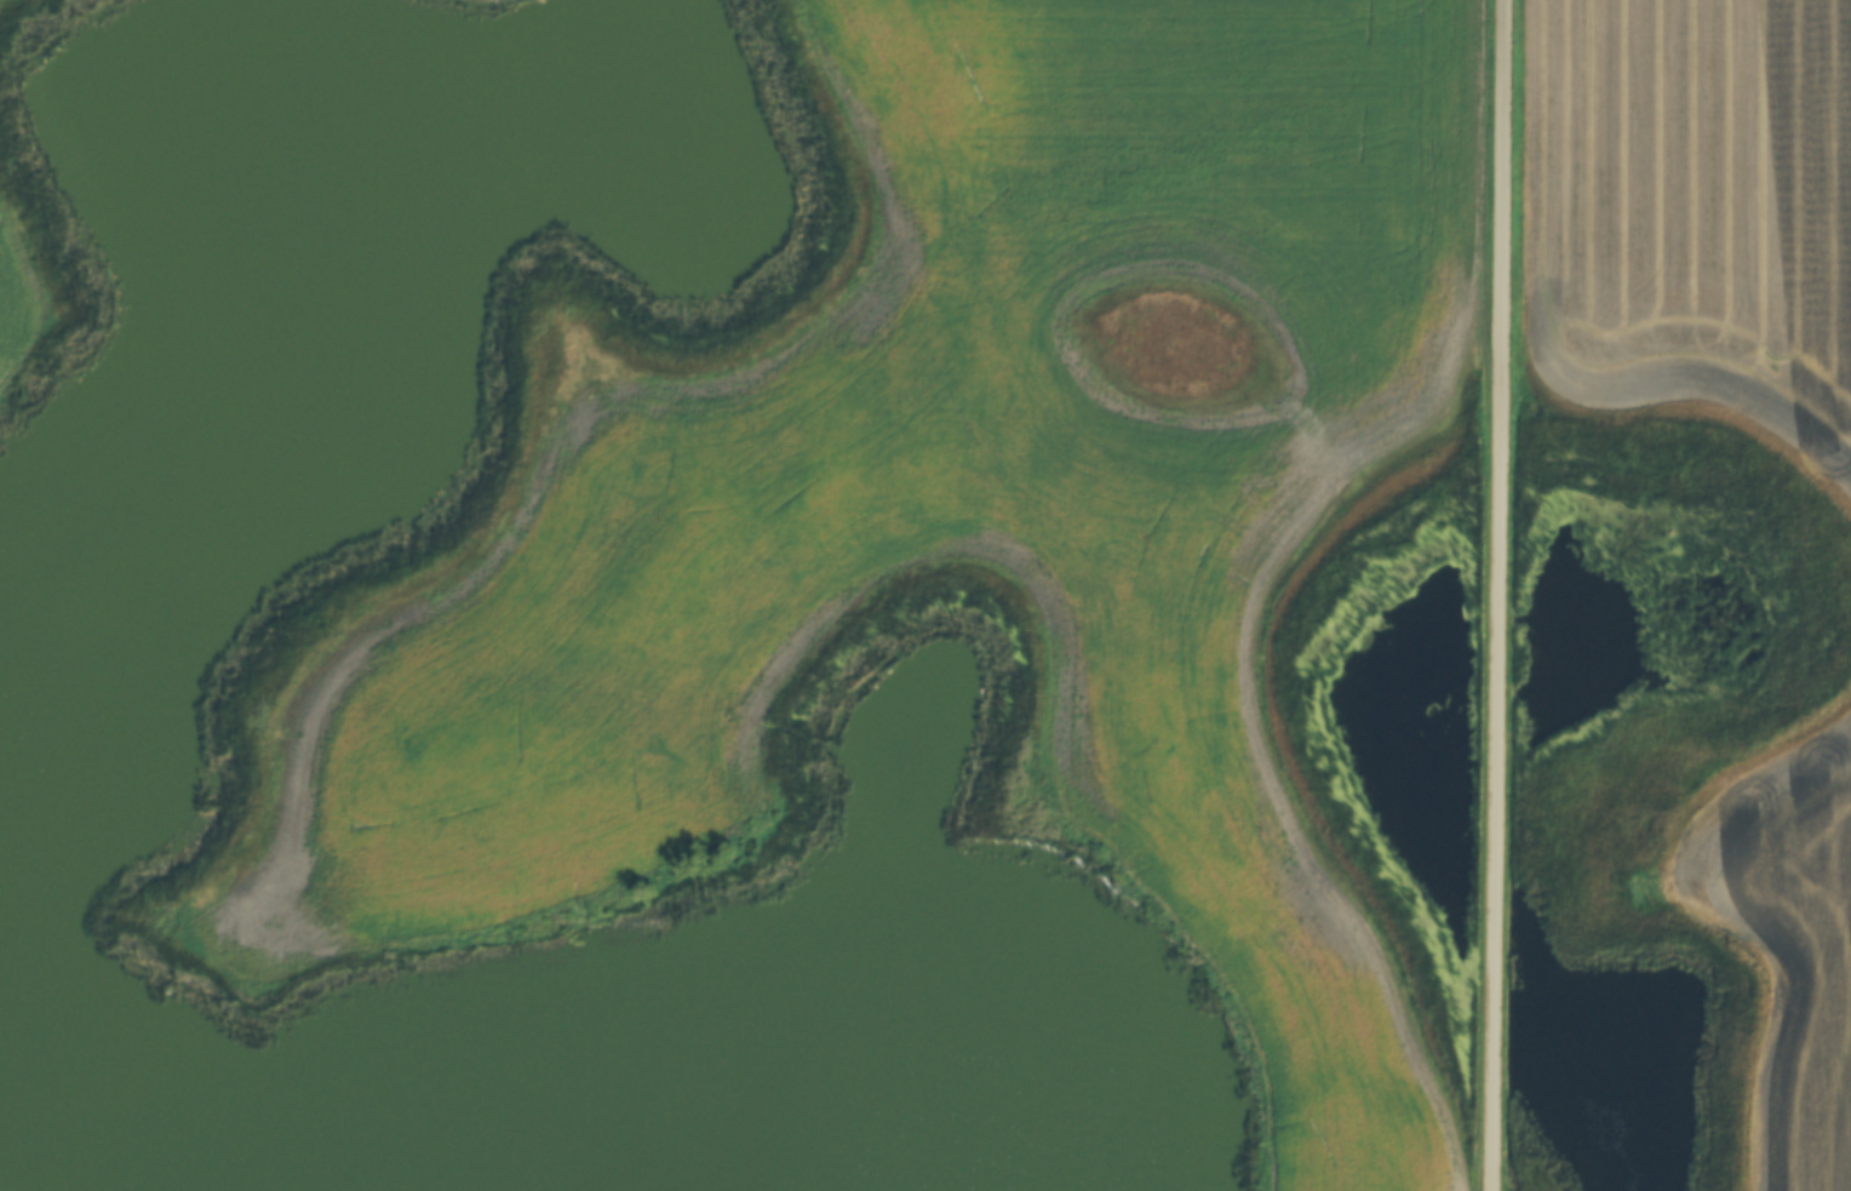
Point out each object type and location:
road: (1512, 595)

